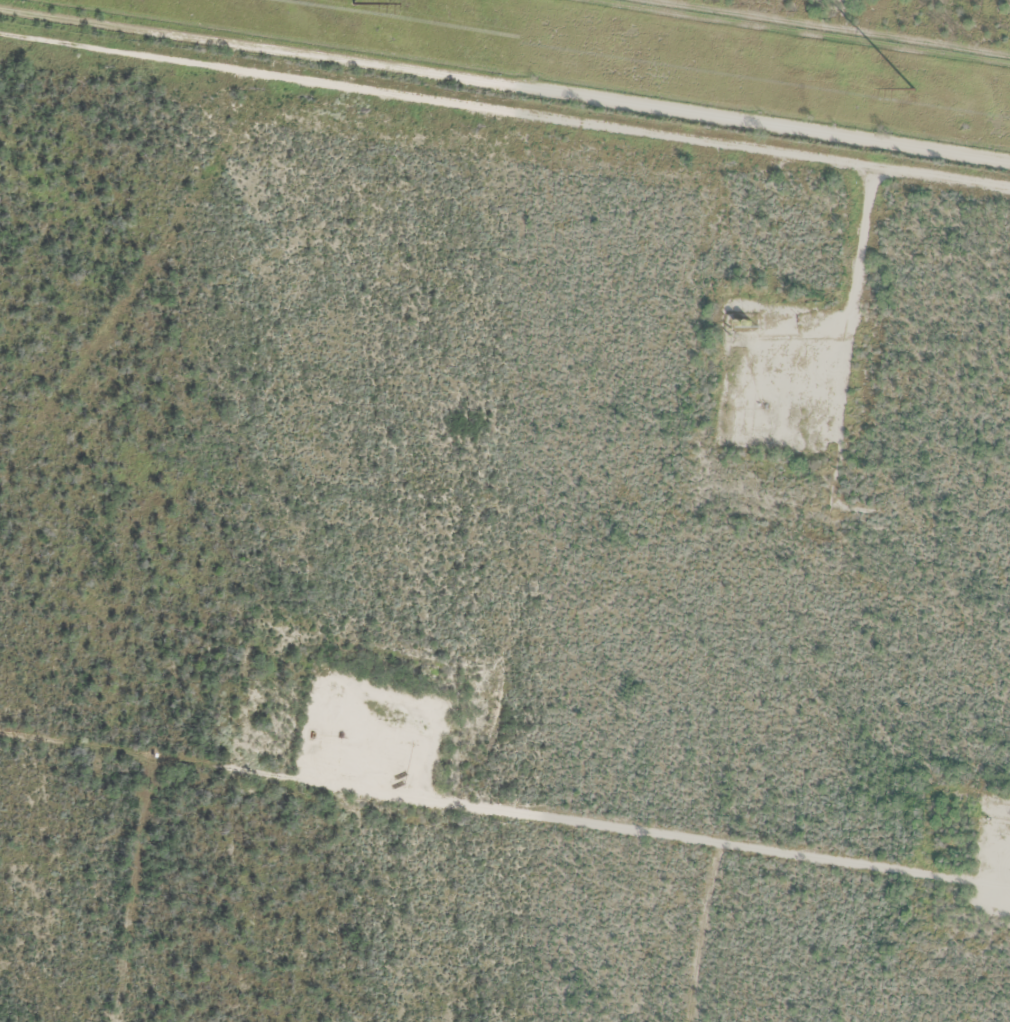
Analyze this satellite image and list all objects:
power tower: (354, 2)
road: (302, 77)
power tower: (913, 88)
road: (807, 157)

